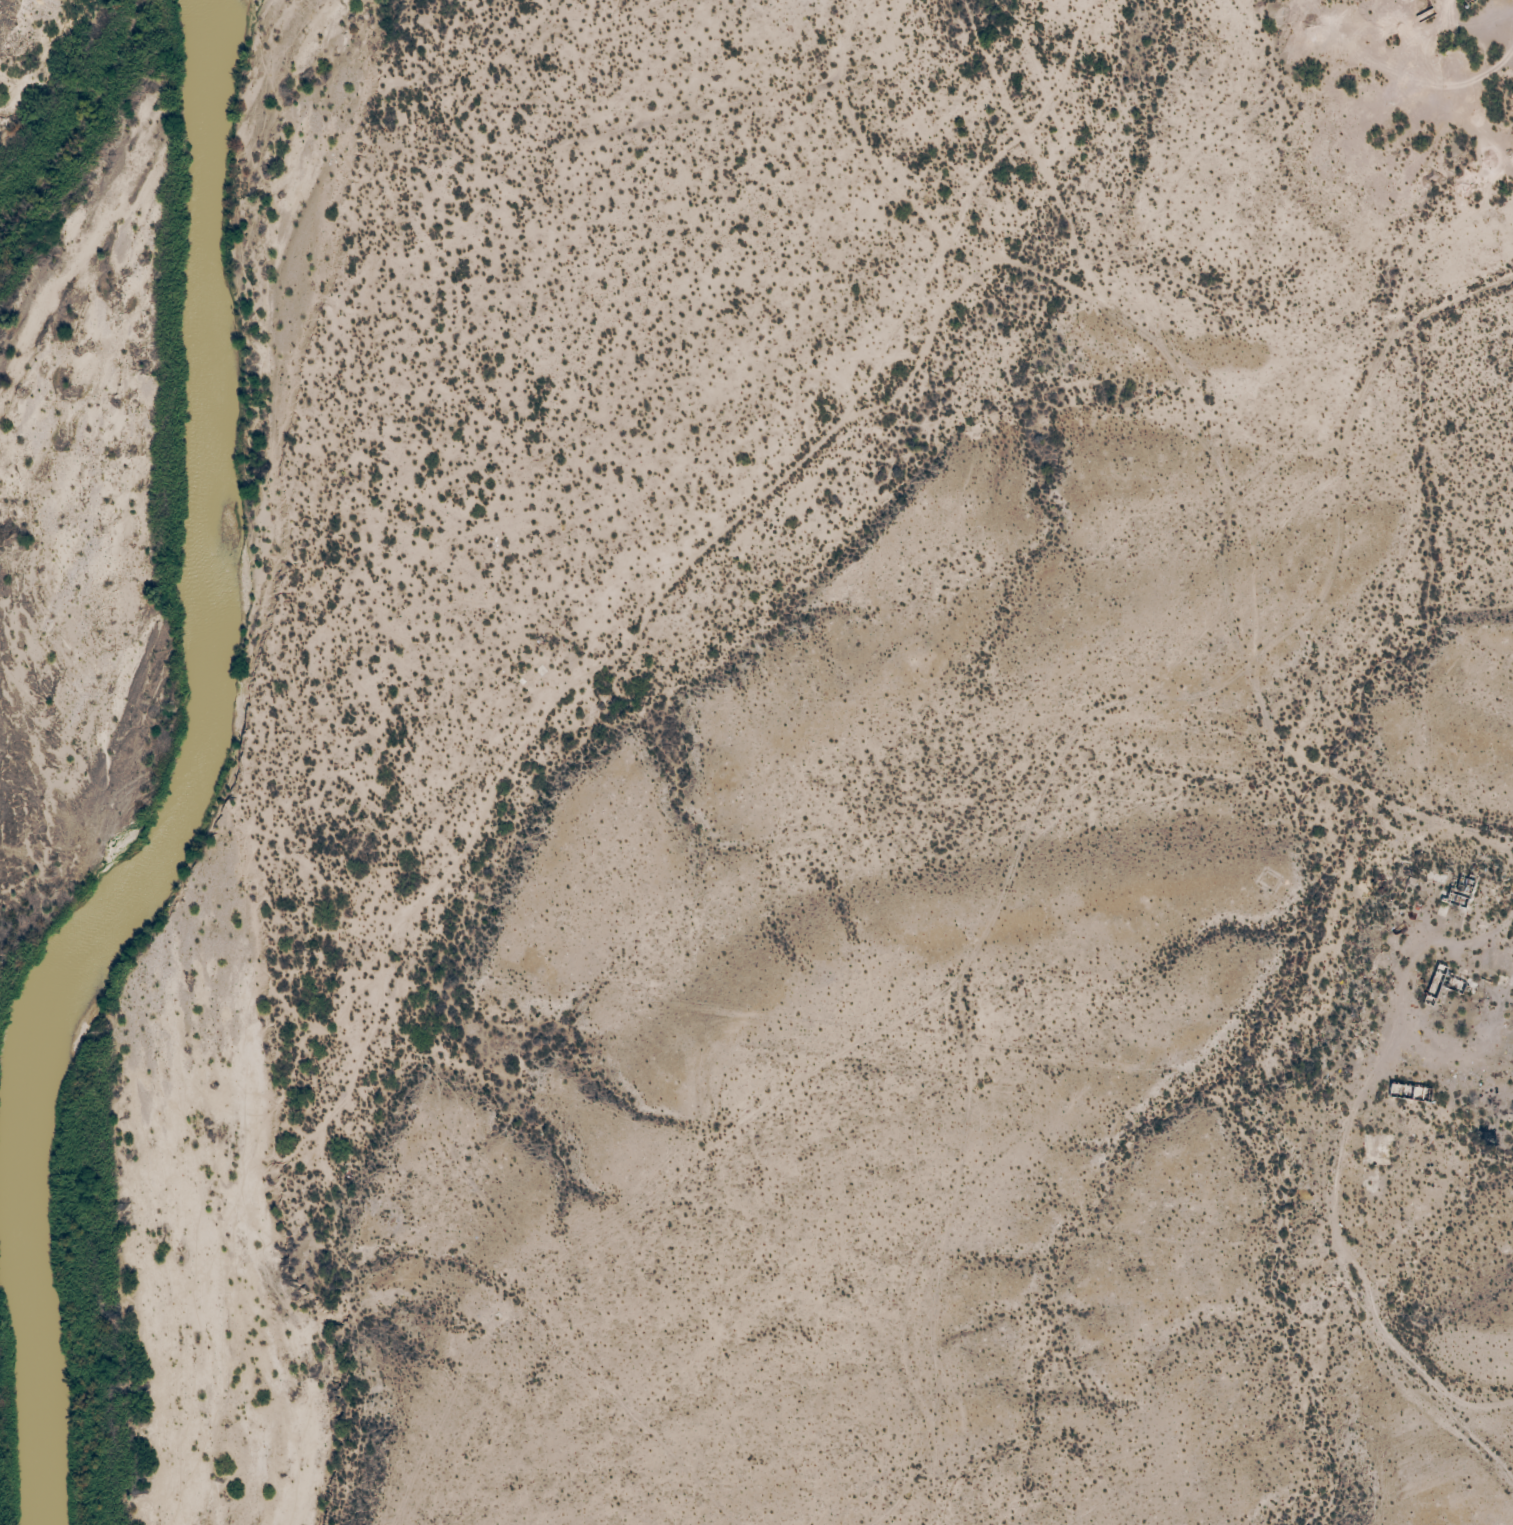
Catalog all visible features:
river: (174, 782)
road: (1500, 939)

